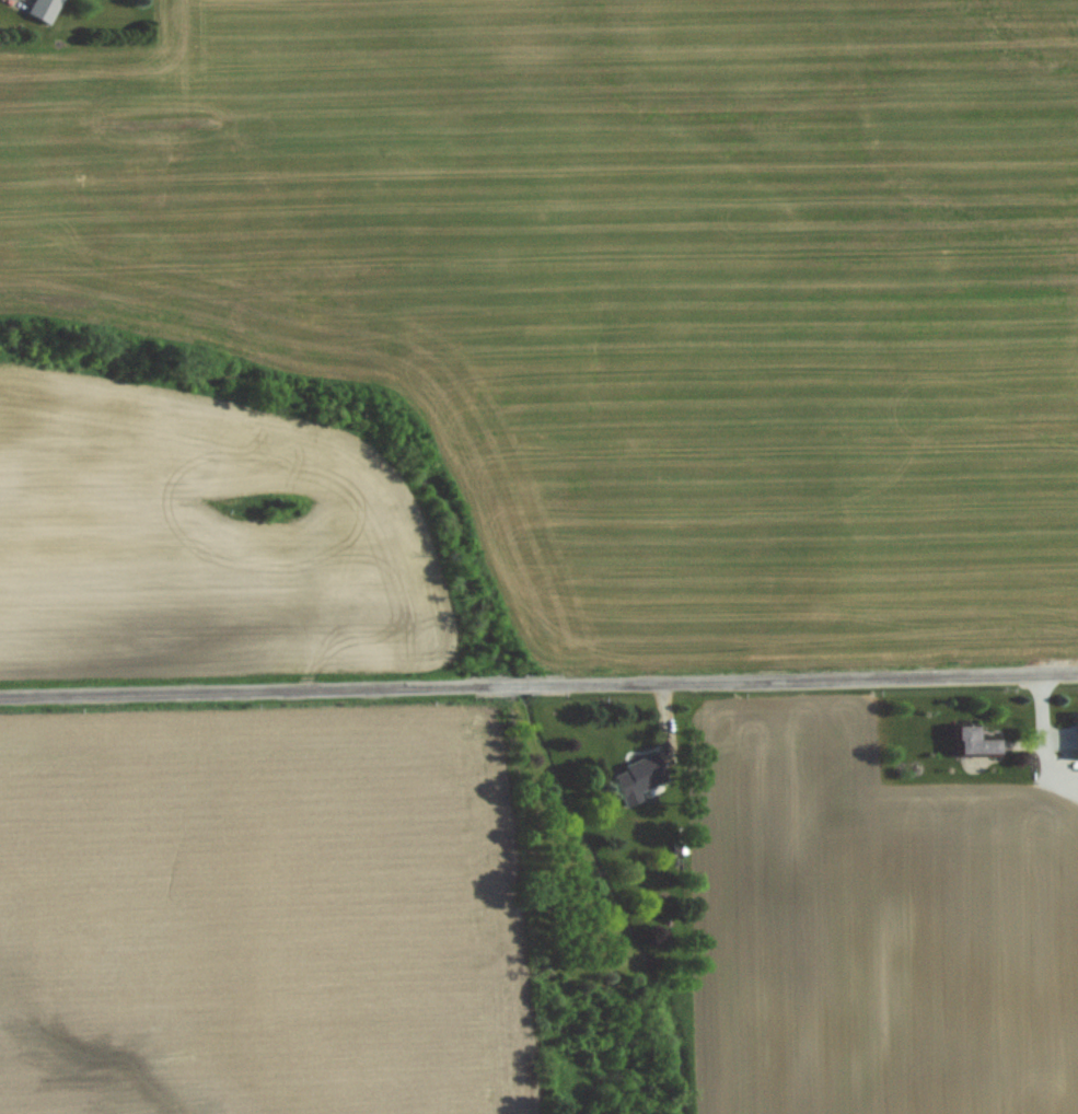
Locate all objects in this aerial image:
building: (43, 9)
road: (538, 684)
road: (1056, 733)
building: (1076, 733)
building: (973, 740)
building: (637, 777)

